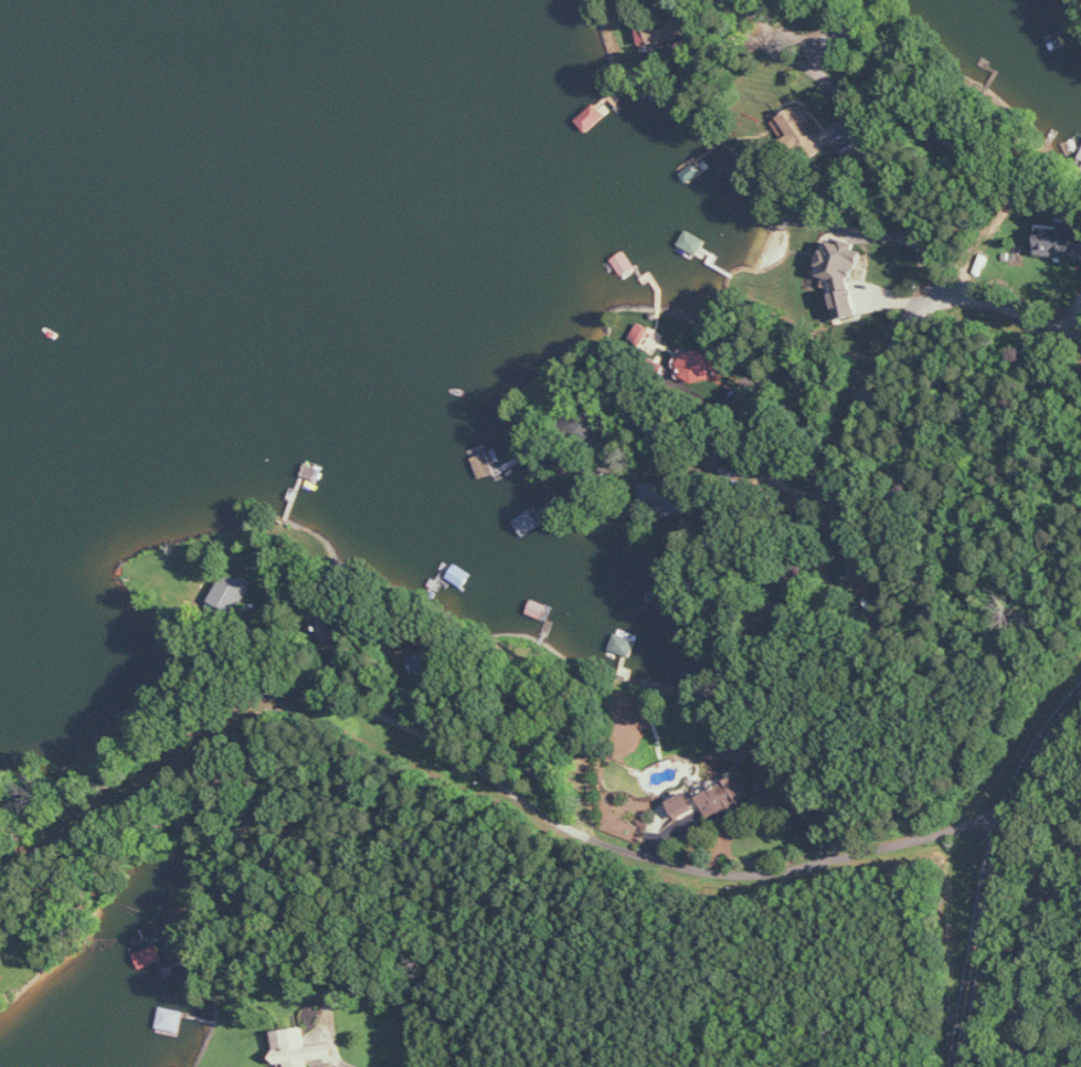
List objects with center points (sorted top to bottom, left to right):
building: (676, 25)
building: (802, 133)
road: (873, 159)
building: (1059, 241)
building: (844, 278)
building: (702, 366)
road: (879, 373)
road: (764, 379)
road: (601, 434)
road: (838, 575)
building: (233, 592)
building: (331, 630)
building: (624, 645)
building: (423, 666)
building: (725, 796)
road: (746, 803)
building: (683, 805)
road: (580, 833)
road: (993, 873)
road: (382, 1016)
building: (300, 1049)

